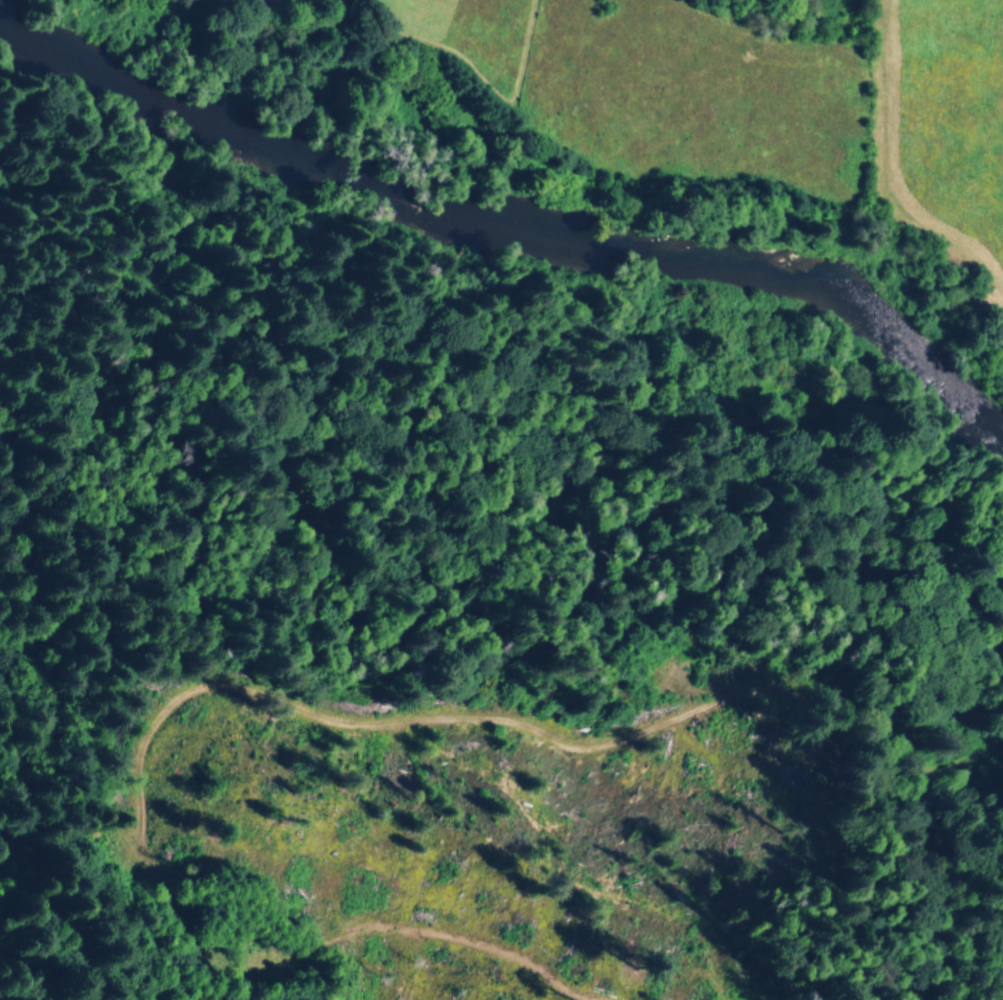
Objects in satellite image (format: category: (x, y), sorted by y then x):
river: (509, 238)

